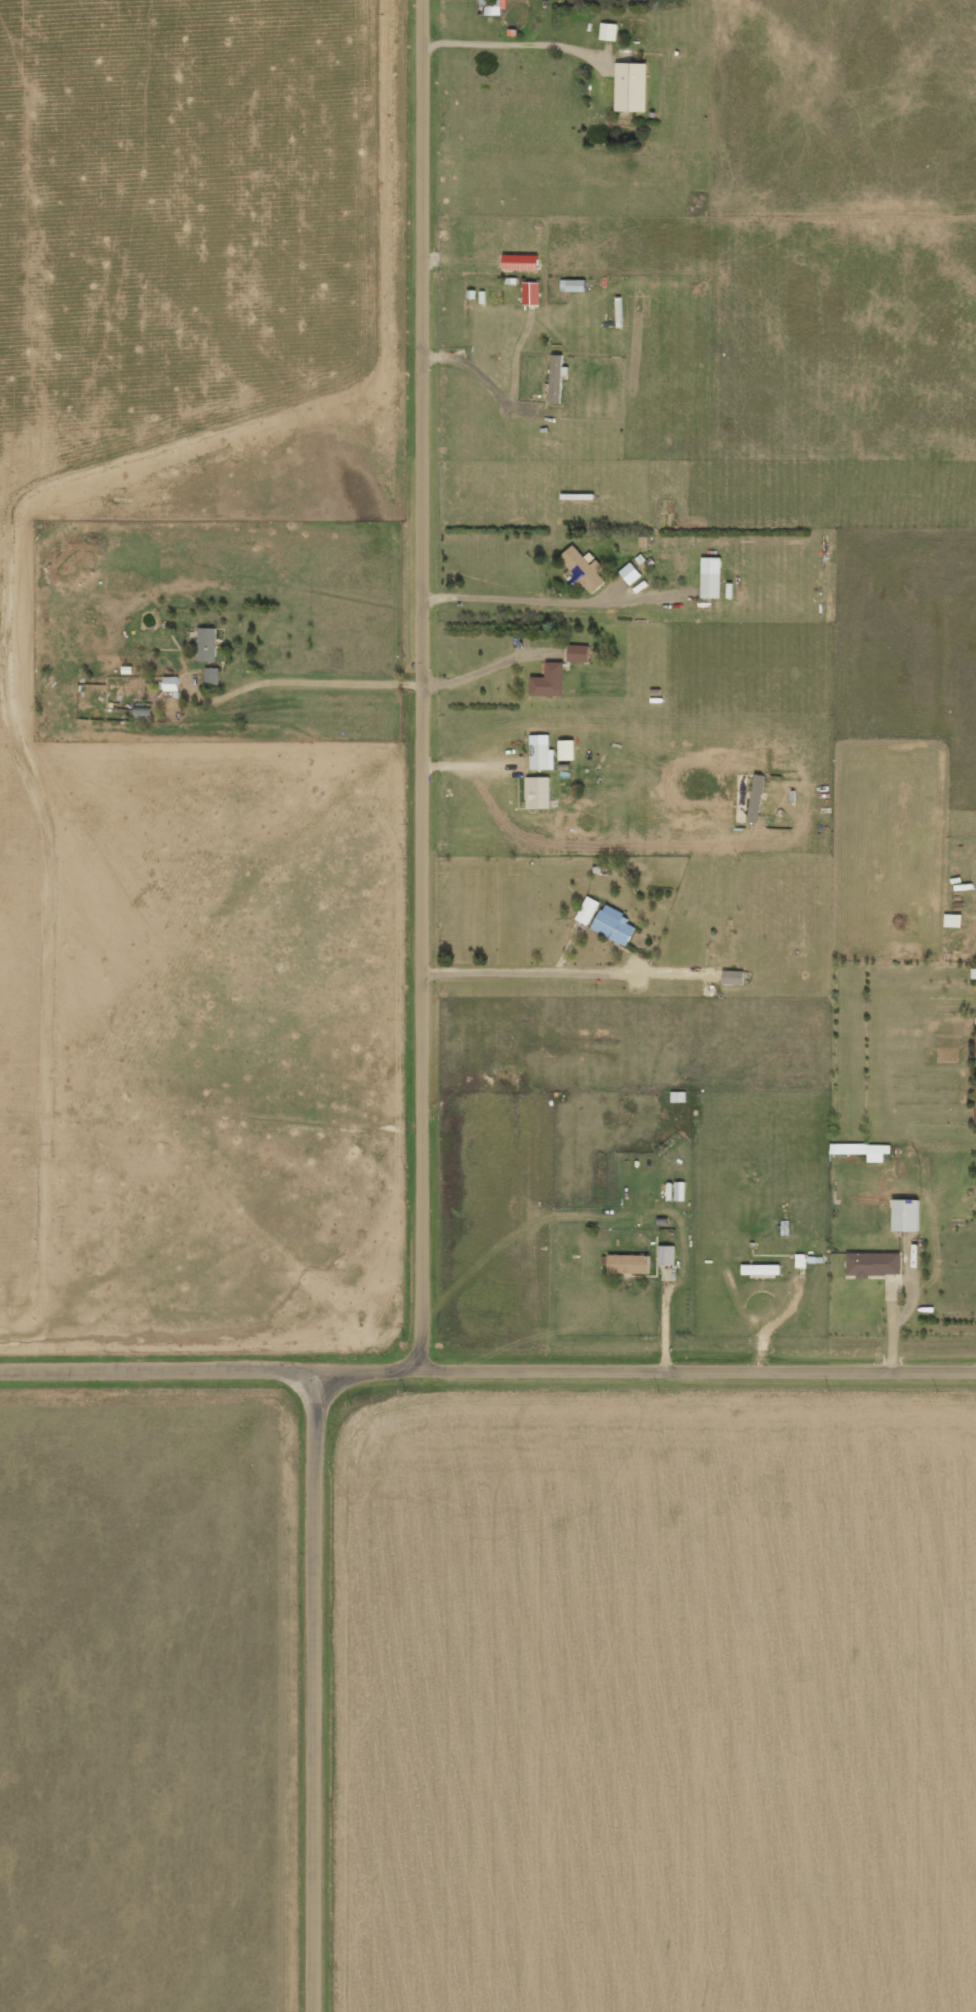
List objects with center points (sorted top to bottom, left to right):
building: (607, 30)
building: (628, 82)
building: (524, 261)
building: (577, 284)
building: (535, 292)
building: (587, 568)
building: (632, 572)
building: (714, 576)
building: (210, 643)
building: (581, 652)
building: (553, 679)
building: (174, 682)
road: (424, 684)
road: (323, 689)
building: (570, 749)
building: (545, 752)
building: (542, 791)
building: (744, 797)
building: (590, 909)
building: (957, 919)
building: (618, 924)
building: (738, 977)
building: (681, 1096)
building: (867, 1150)
building: (678, 1190)
building: (910, 1214)
building: (670, 1254)
building: (804, 1260)
building: (633, 1263)
building: (877, 1263)
building: (766, 1269)
road: (487, 1368)
road: (320, 1690)

